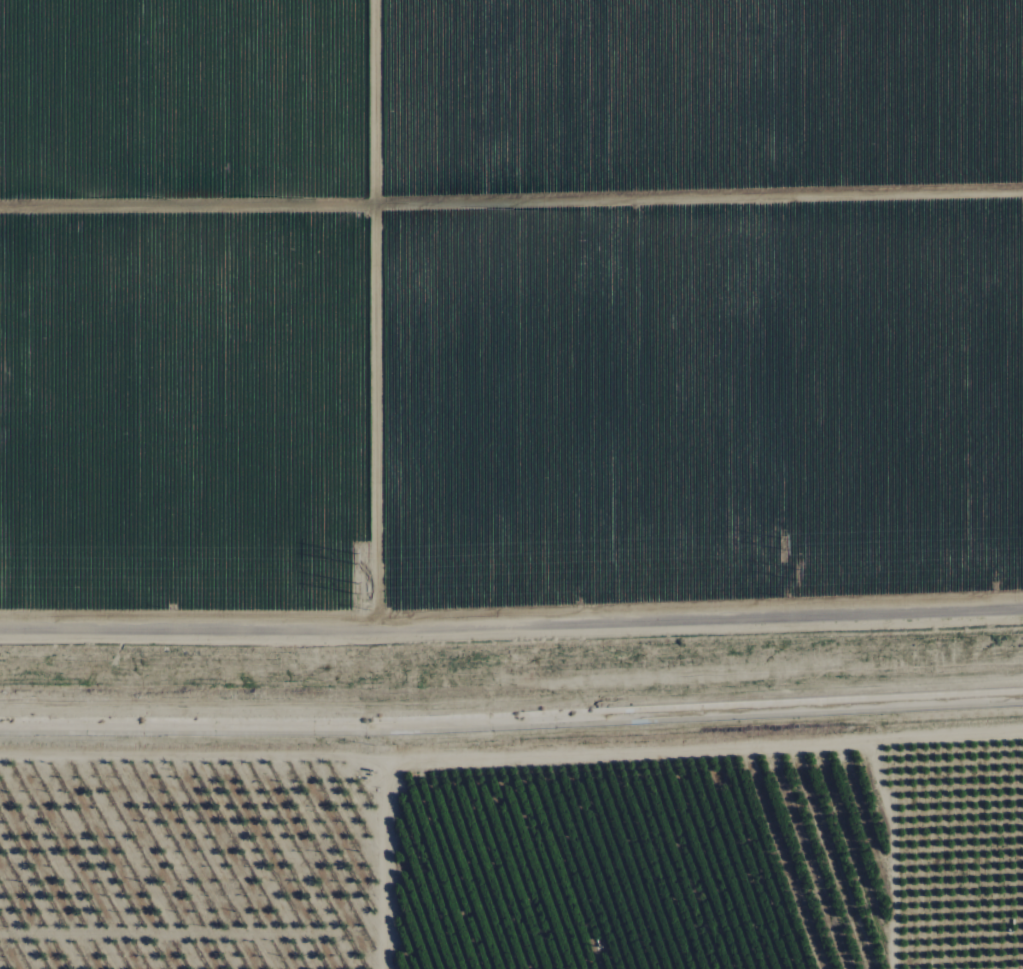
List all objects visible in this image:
power tower: (780, 546)
power tower: (363, 559)
power tower: (794, 575)
power tower: (365, 589)
road: (511, 626)

